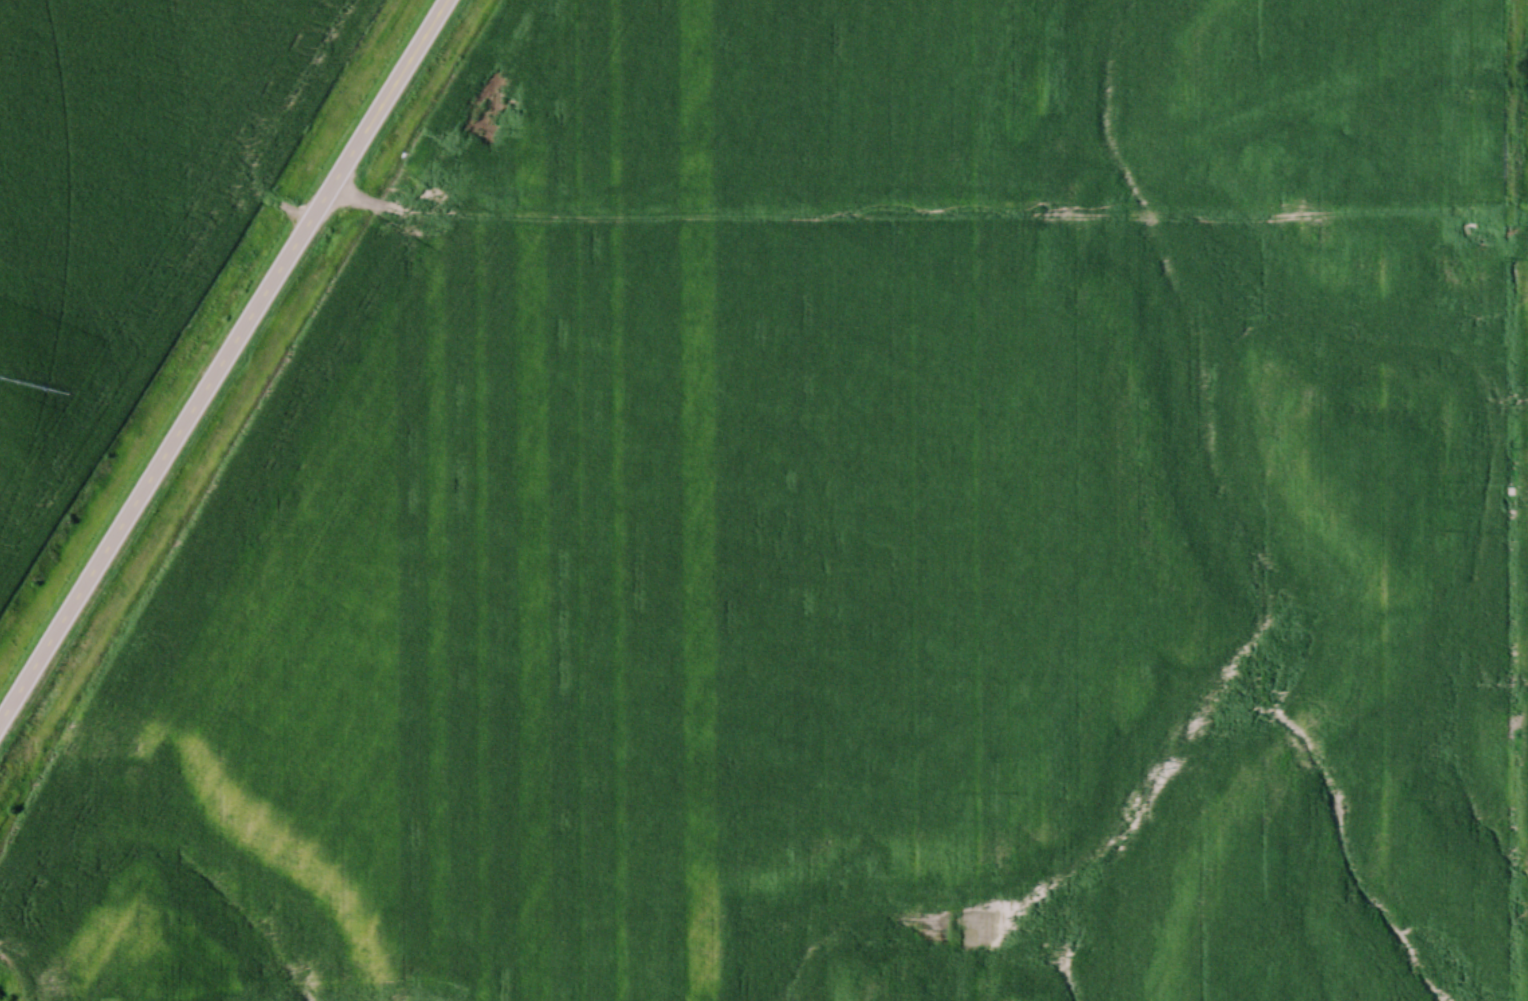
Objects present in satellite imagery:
road: (224, 364)

